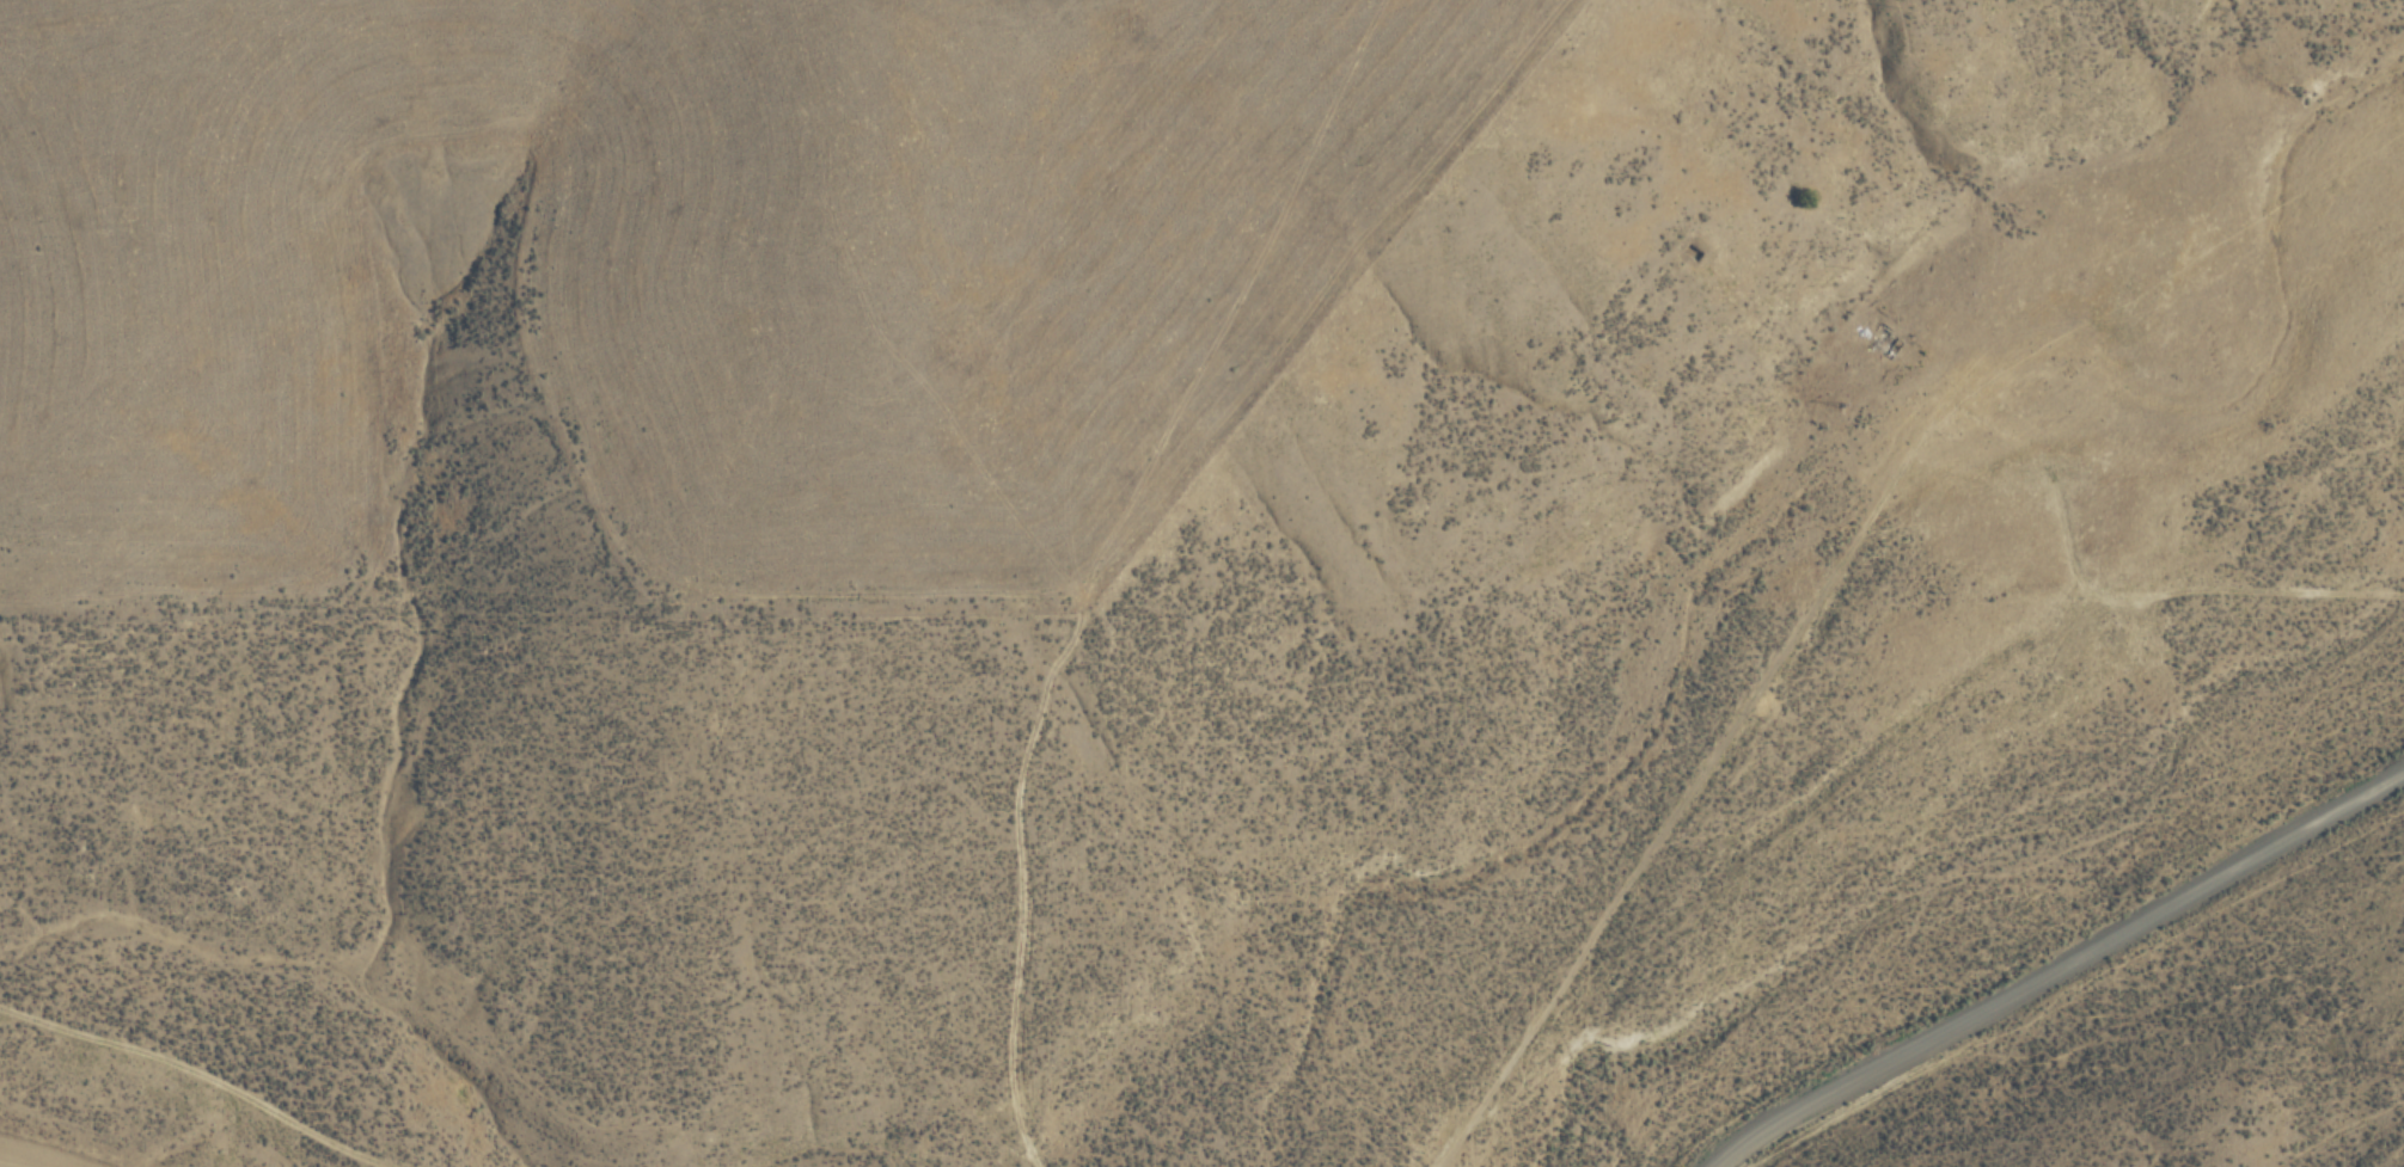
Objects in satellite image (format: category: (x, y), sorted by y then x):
road: (2057, 964)

